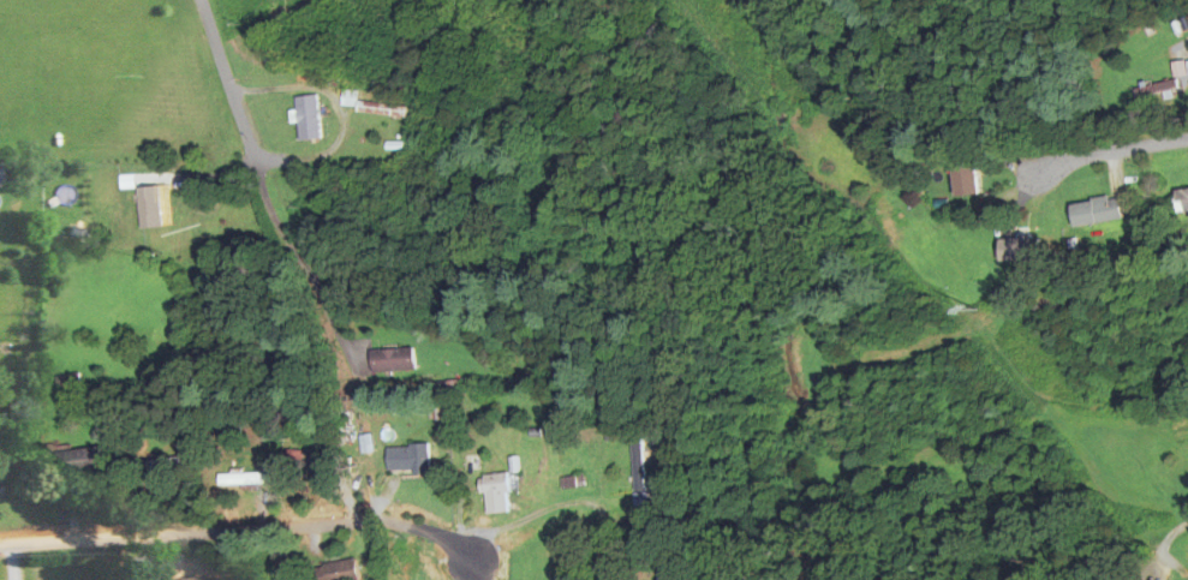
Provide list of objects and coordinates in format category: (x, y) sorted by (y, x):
building: (1180, 70)
building: (1154, 89)
building: (378, 110)
road: (336, 114)
building: (304, 119)
road: (1106, 149)
building: (962, 180)
road: (261, 187)
building: (1181, 201)
building: (119, 209)
building: (1094, 213)
building: (76, 233)
building: (1016, 251)
building: (388, 360)
building: (66, 384)
building: (404, 459)
building: (78, 462)
building: (154, 466)
building: (634, 467)
building: (309, 470)
building: (237, 479)
building: (0, 495)
building: (492, 495)
road: (1102, 527)
road: (237, 531)
road: (478, 562)
road: (13, 563)
building: (405, 569)
building: (335, 572)
building: (659, 574)
building: (189, 579)

